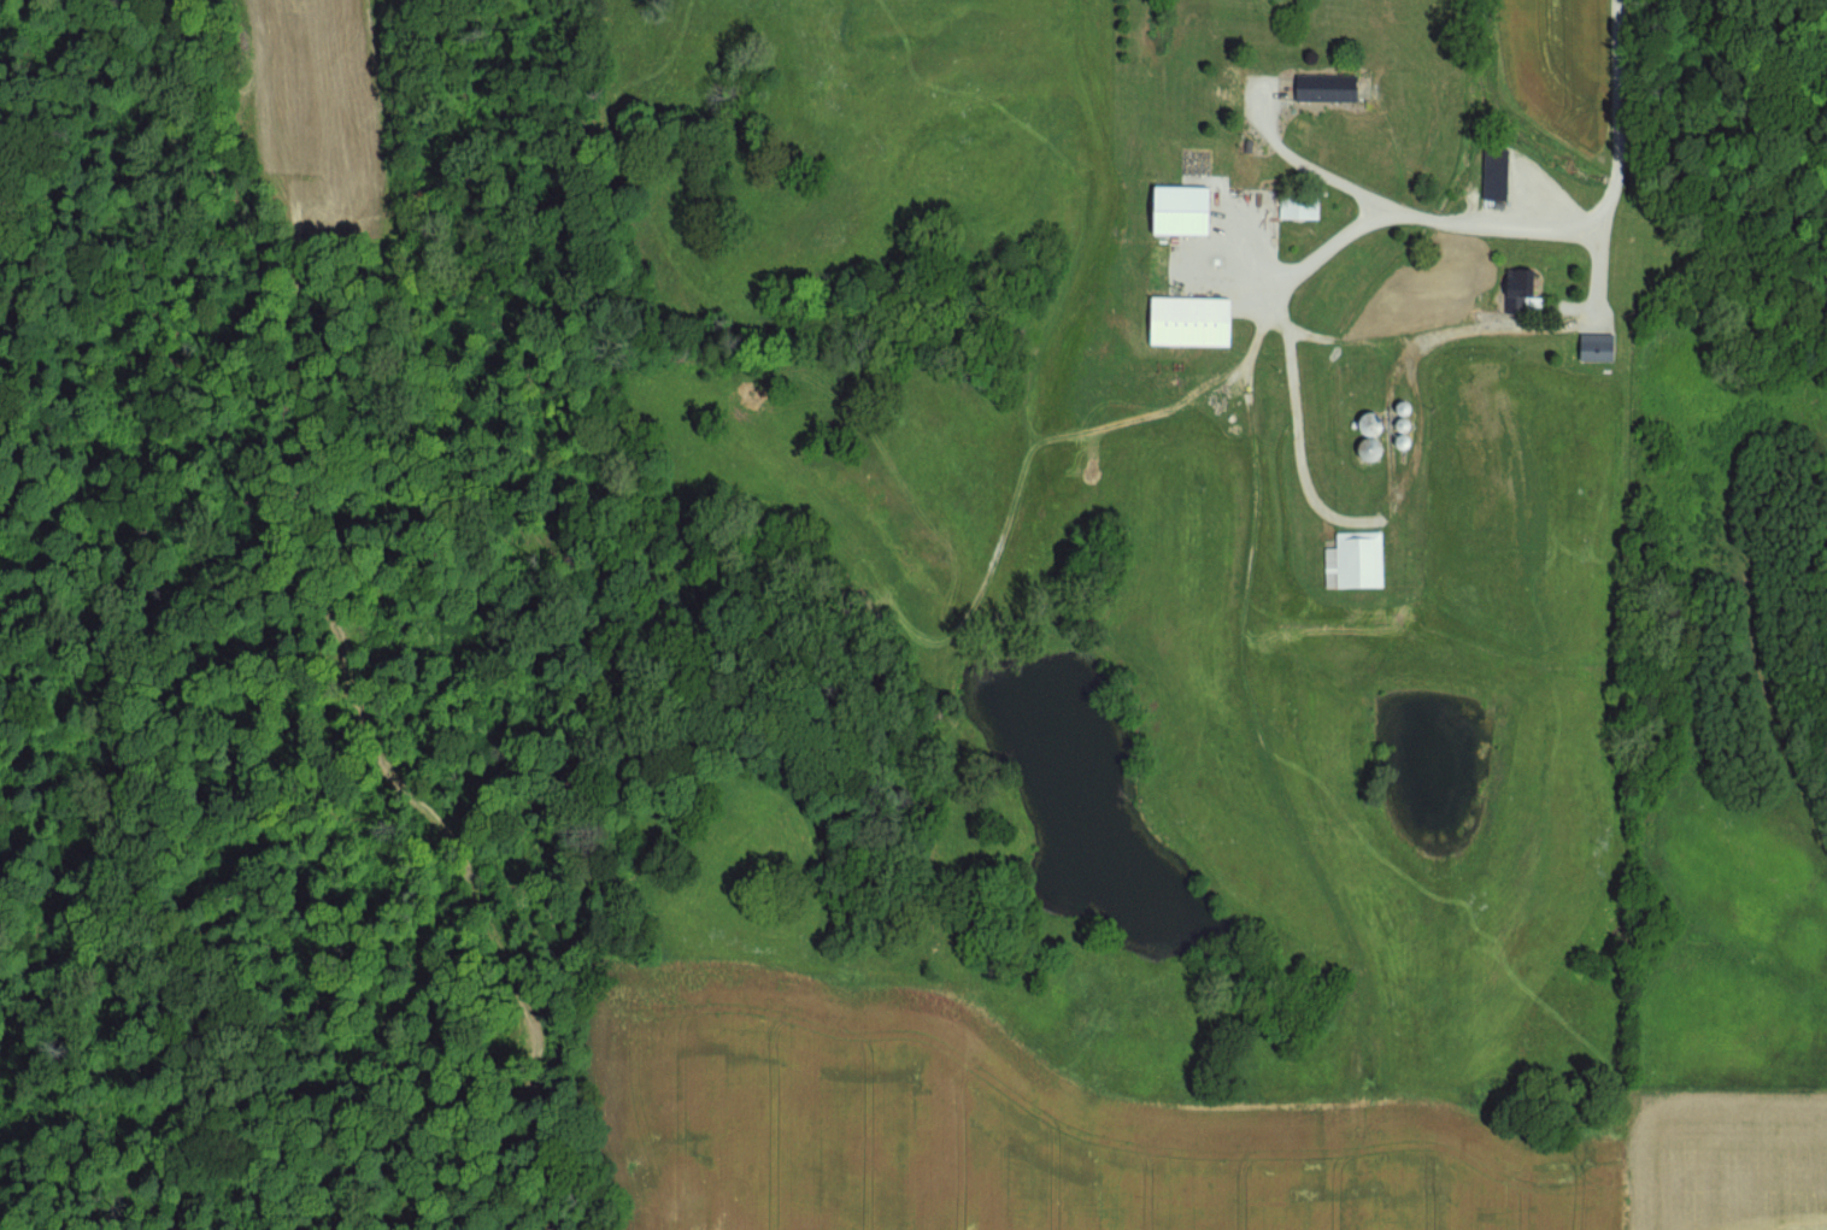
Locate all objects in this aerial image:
building: (1333, 90)
road: (1315, 171)
building: (1500, 177)
building: (1305, 211)
building: (1187, 213)
road: (1582, 218)
road: (1602, 267)
building: (1528, 293)
building: (1197, 324)
building: (1602, 349)
road: (1292, 360)
building: (1376, 425)
building: (1376, 452)
building: (1359, 564)

